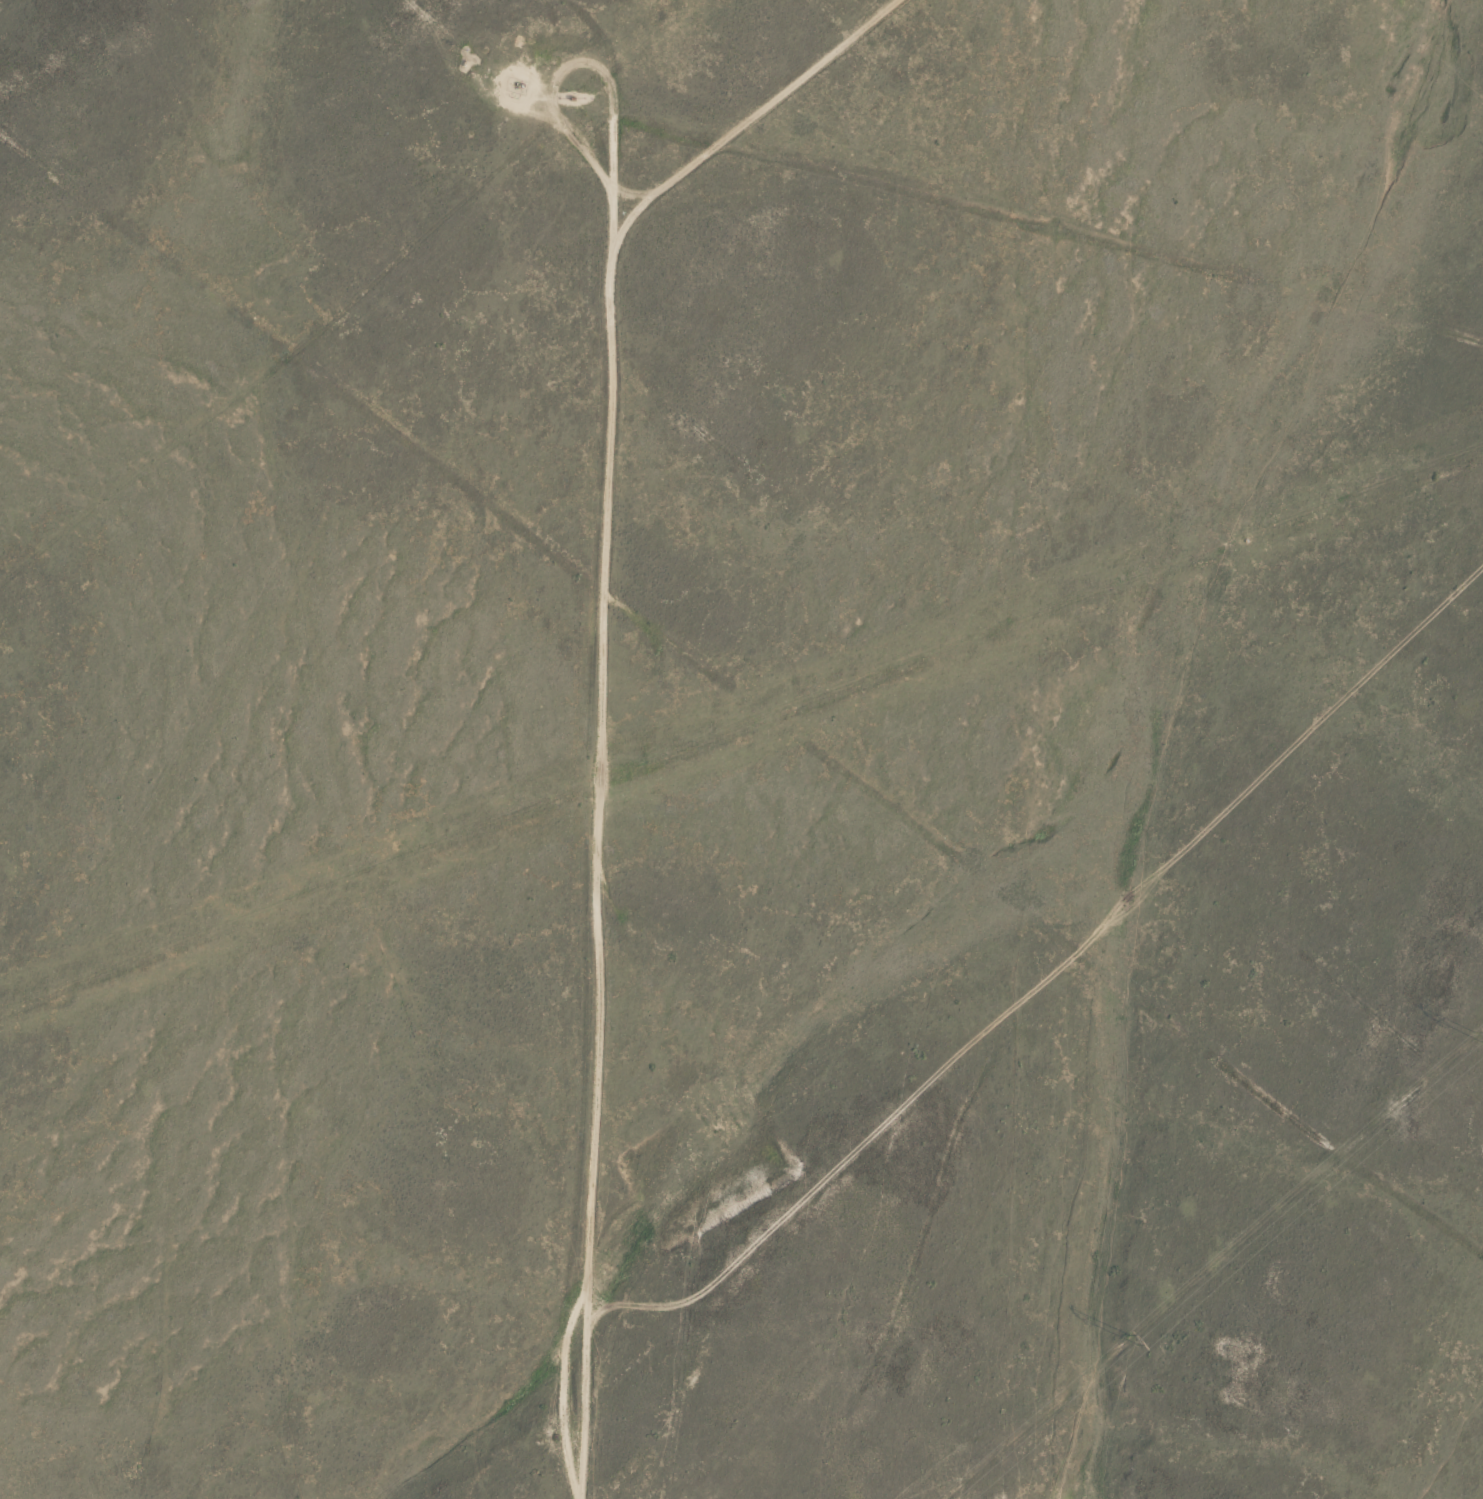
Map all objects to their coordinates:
road: (672, 142)
road: (736, 697)
road: (556, 735)
power tower: (1479, 1037)
power tower: (1131, 1338)

